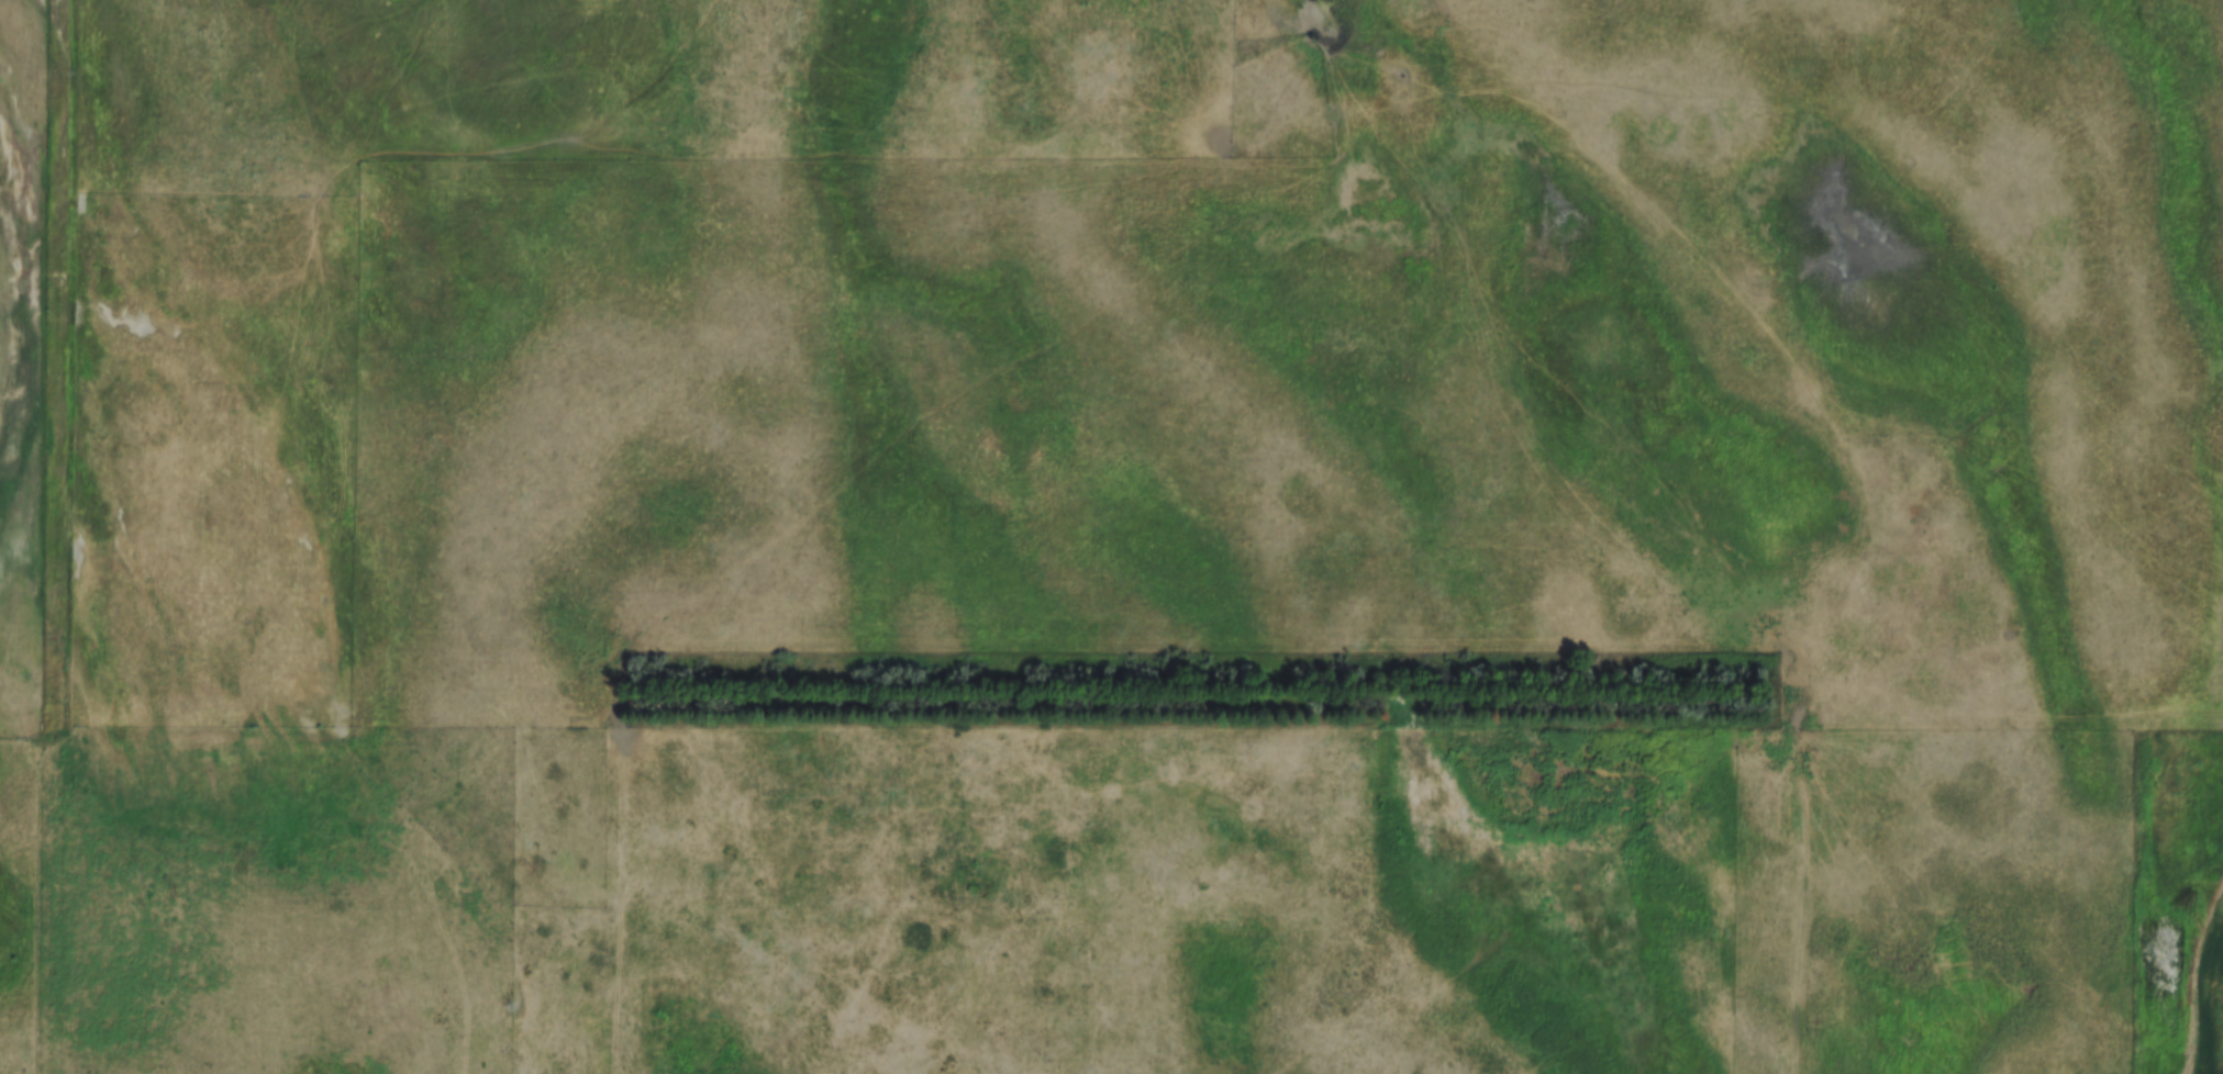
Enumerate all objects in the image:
road: (2147, 905)

